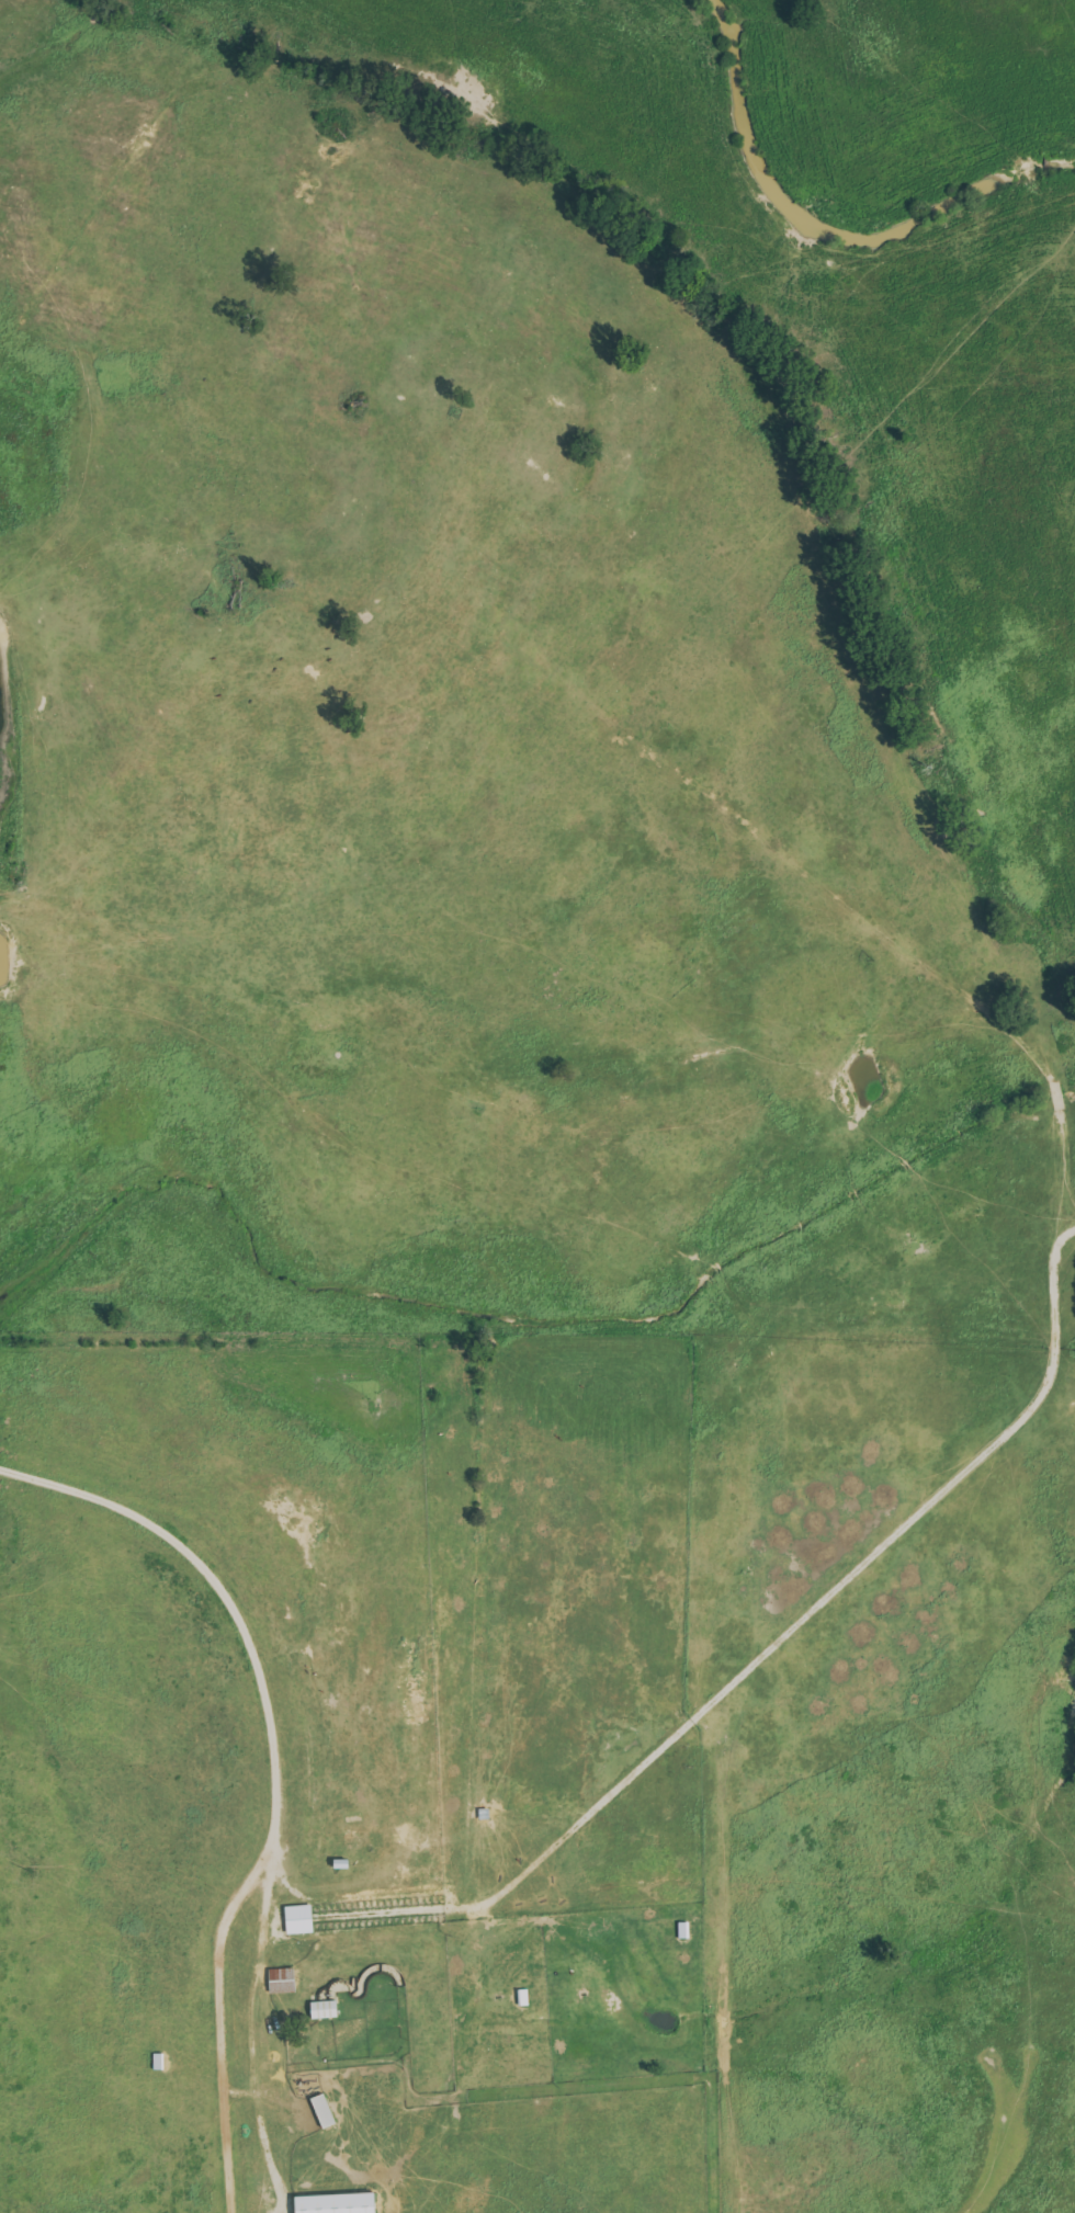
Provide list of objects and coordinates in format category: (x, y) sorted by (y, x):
road: (271, 1766)
building: (303, 1919)
building: (285, 1981)
building: (328, 2009)
building: (342, 2203)

